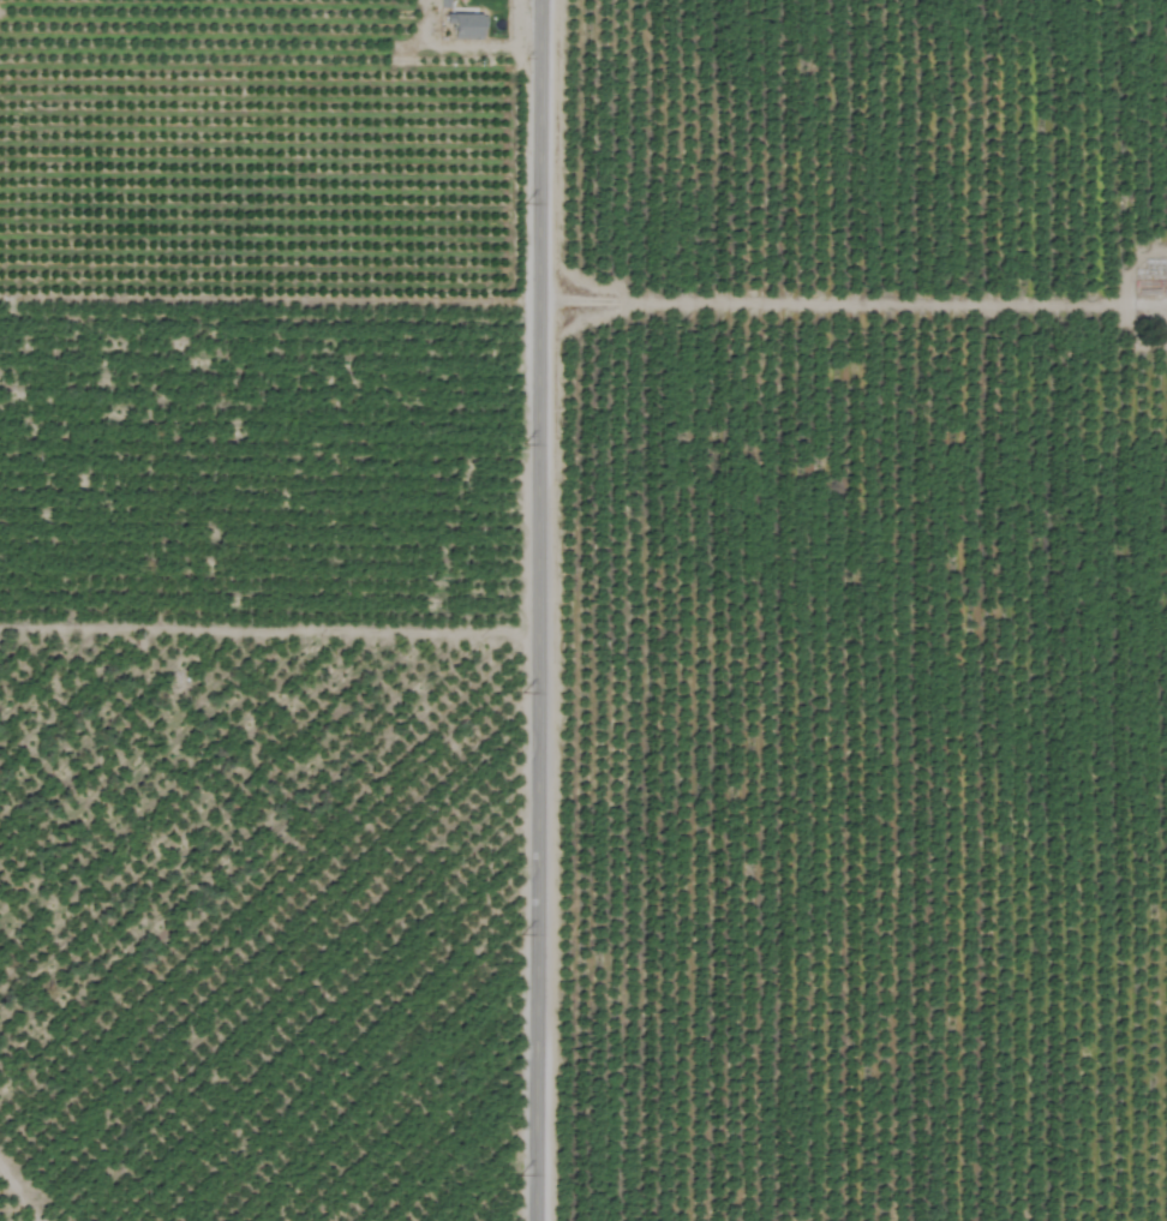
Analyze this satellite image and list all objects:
building: (442, 4)
building: (462, 25)
road: (848, 311)
road: (526, 610)
crop: (583, 610)

